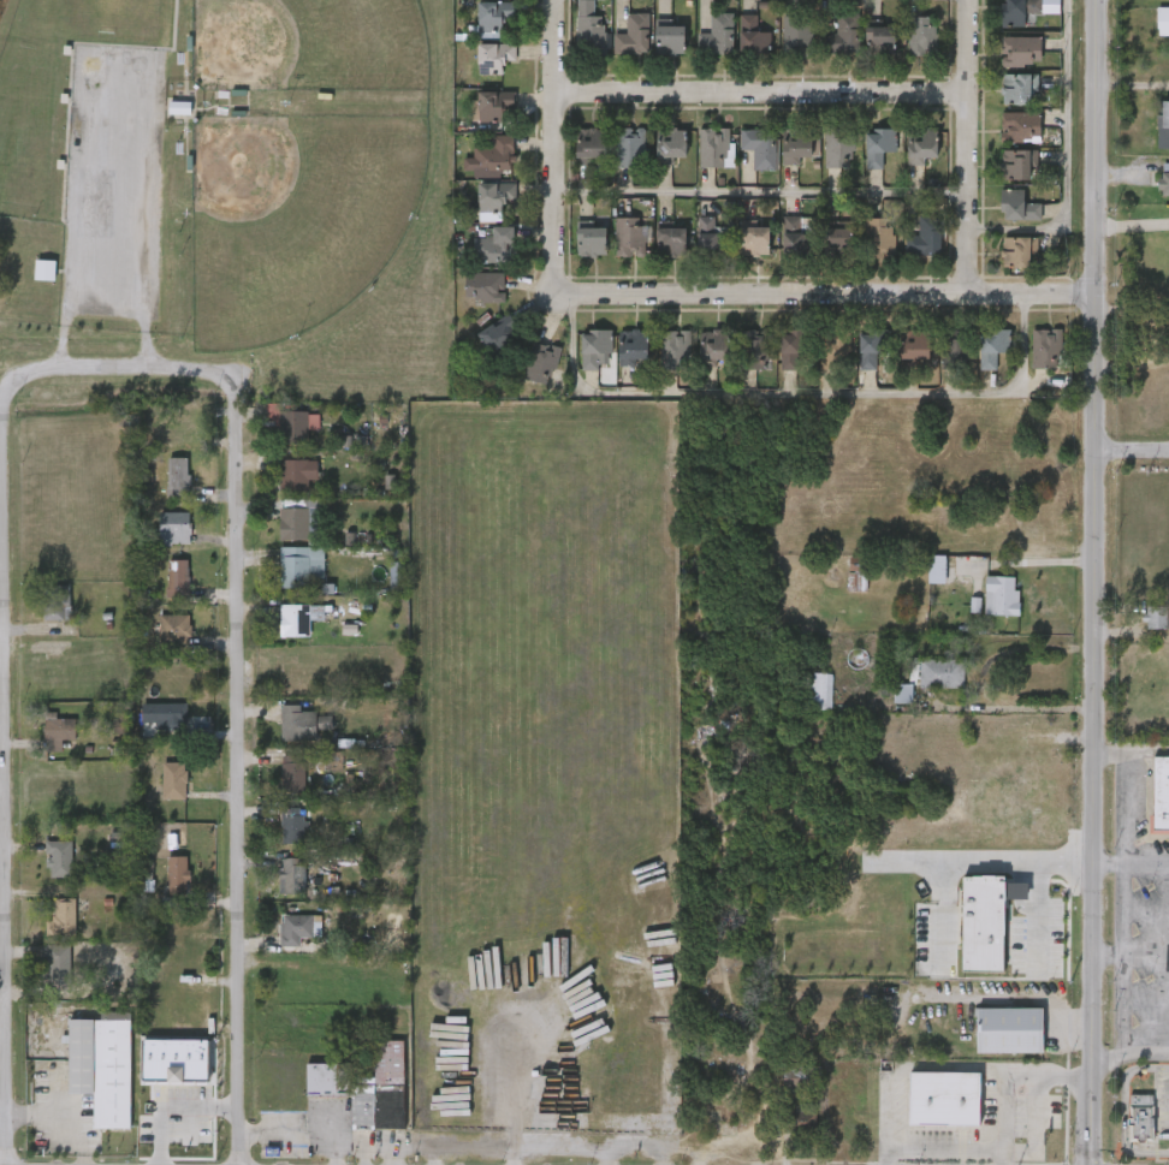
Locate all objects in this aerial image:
building: (1015, 11)
building: (492, 17)
building: (1163, 22)
building: (718, 34)
building: (633, 35)
building: (796, 35)
building: (843, 35)
building: (920, 35)
building: (589, 36)
building: (752, 37)
building: (878, 38)
building: (666, 40)
building: (1153, 40)
building: (1020, 50)
building: (492, 57)
road: (147, 58)
building: (1016, 88)
road: (761, 93)
building: (491, 106)
building: (179, 108)
building: (1020, 126)
road: (554, 136)
building: (1153, 144)
building: (759, 145)
building: (878, 145)
road: (967, 145)
building: (588, 147)
building: (669, 147)
building: (920, 147)
building: (630, 148)
building: (714, 148)
building: (800, 149)
building: (838, 149)
building: (493, 155)
road: (1060, 159)
building: (1015, 165)
building: (1164, 185)
road: (760, 196)
building: (493, 198)
building: (1156, 201)
building: (1016, 206)
road: (1133, 227)
building: (629, 238)
building: (794, 238)
building: (878, 238)
building: (924, 238)
building: (589, 240)
building: (753, 240)
building: (836, 242)
building: (669, 243)
building: (713, 244)
building: (493, 246)
building: (1016, 252)
building: (44, 271)
building: (482, 286)
road: (820, 292)
road: (76, 311)
building: (497, 334)
building: (913, 346)
building: (991, 346)
building: (592, 347)
building: (630, 347)
building: (714, 347)
building: (790, 347)
building: (835, 347)
building: (871, 349)
building: (950, 349)
building: (1048, 349)
building: (670, 350)
building: (755, 351)
road: (119, 367)
building: (529, 369)
road: (784, 403)
building: (296, 424)
building: (173, 432)
road: (1133, 448)
building: (296, 472)
building: (178, 474)
building: (292, 523)
building: (313, 524)
building: (174, 528)
building: (937, 570)
building: (293, 571)
building: (858, 575)
building: (177, 578)
road: (1096, 582)
building: (919, 589)
building: (1002, 596)
building: (57, 601)
building: (985, 616)
building: (1157, 618)
building: (295, 620)
building: (957, 626)
building: (174, 629)
building: (1144, 637)
building: (938, 673)
road: (981, 679)
building: (818, 691)
building: (924, 693)
building: (800, 711)
building: (885, 712)
building: (167, 715)
building: (298, 723)
building: (57, 731)
road: (4, 761)
road: (238, 762)
building: (293, 773)
building: (173, 785)
building: (1158, 798)
building: (293, 825)
building: (59, 858)
road: (1066, 863)
road: (1109, 866)
road: (1146, 867)
road: (944, 870)
building: (178, 874)
building: (292, 875)
road: (1122, 887)
building: (61, 919)
road: (1037, 919)
building: (986, 921)
building: (295, 927)
building: (966, 944)
road: (1145, 962)
road: (1108, 963)
building: (58, 964)
road: (1005, 999)
building: (1010, 1030)
building: (991, 1050)
road: (1131, 1053)
building: (176, 1062)
building: (101, 1066)
road: (948, 1068)
building: (801, 1071)
road: (1033, 1078)
road: (1066, 1081)
building: (366, 1088)
building: (944, 1099)
road: (172, 1105)
road: (1122, 1110)
building: (800, 1117)
road: (886, 1117)
building: (926, 1117)
building: (1140, 1119)
road: (311, 1137)
road: (385, 1140)
road: (333, 1152)
road: (943, 1154)

